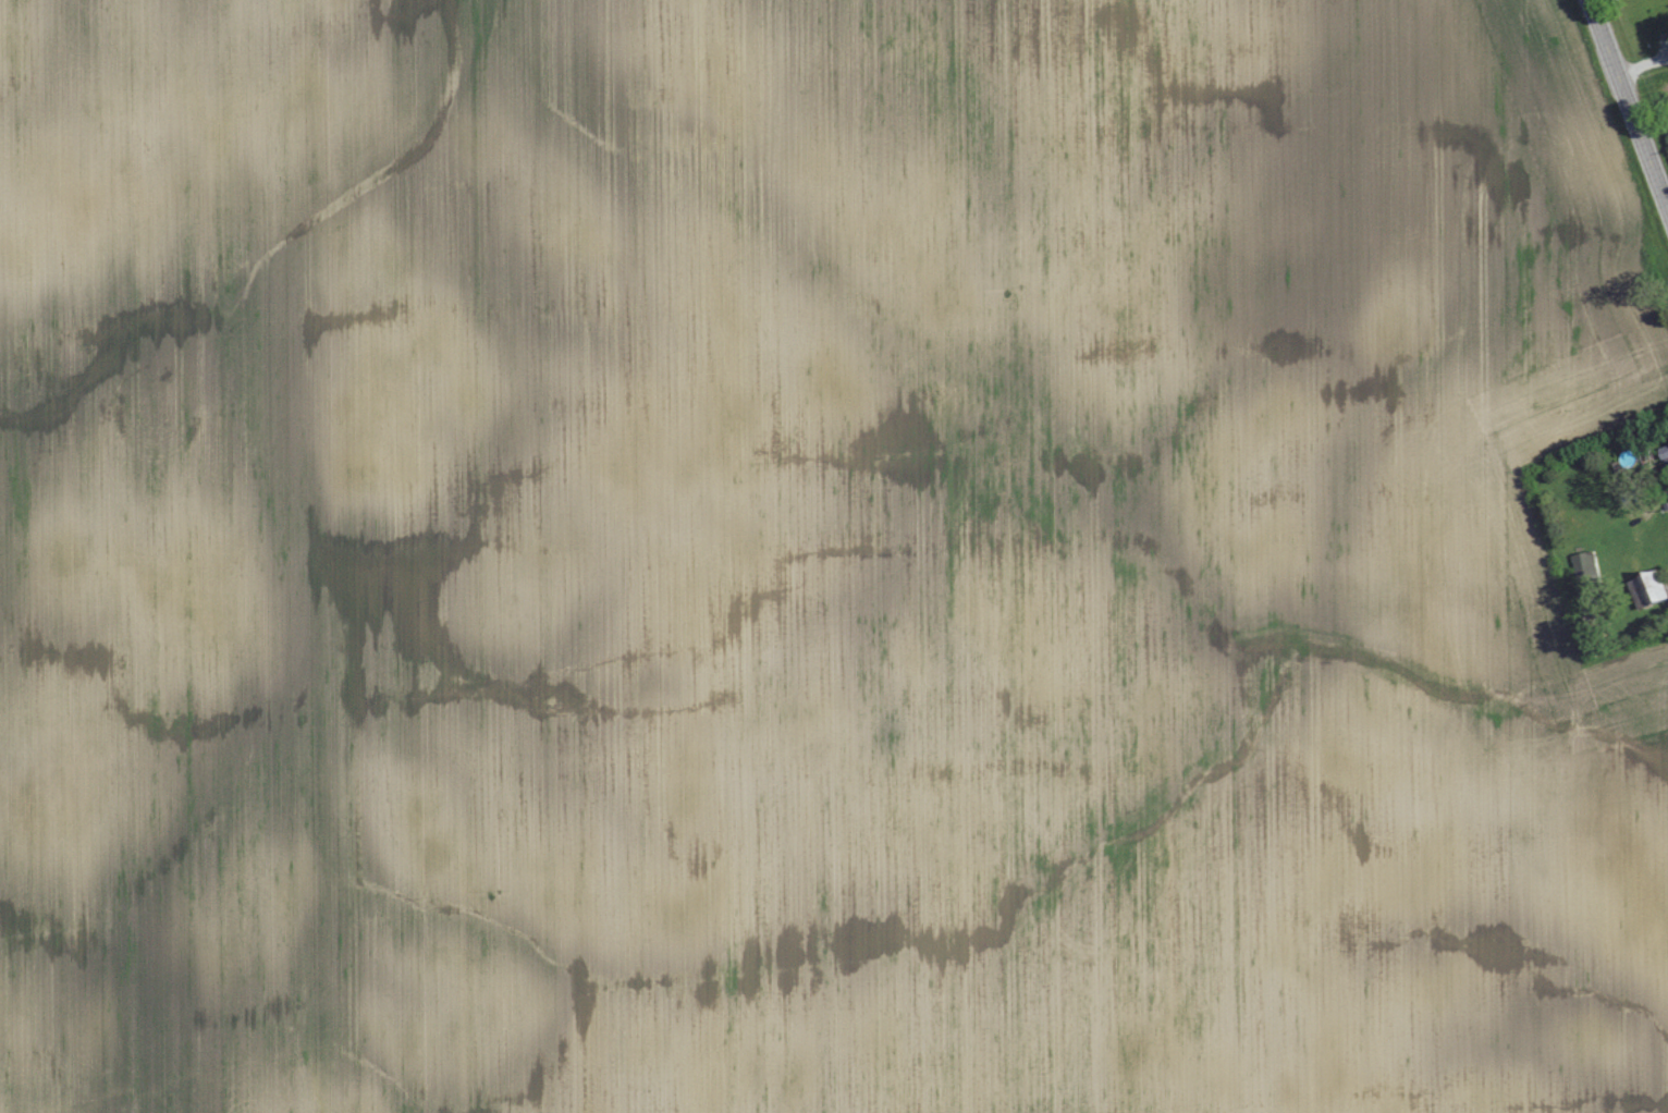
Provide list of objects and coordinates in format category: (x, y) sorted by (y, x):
road: (1642, 62)
road: (1628, 103)
building: (1667, 448)
building: (1589, 568)
building: (1654, 589)

